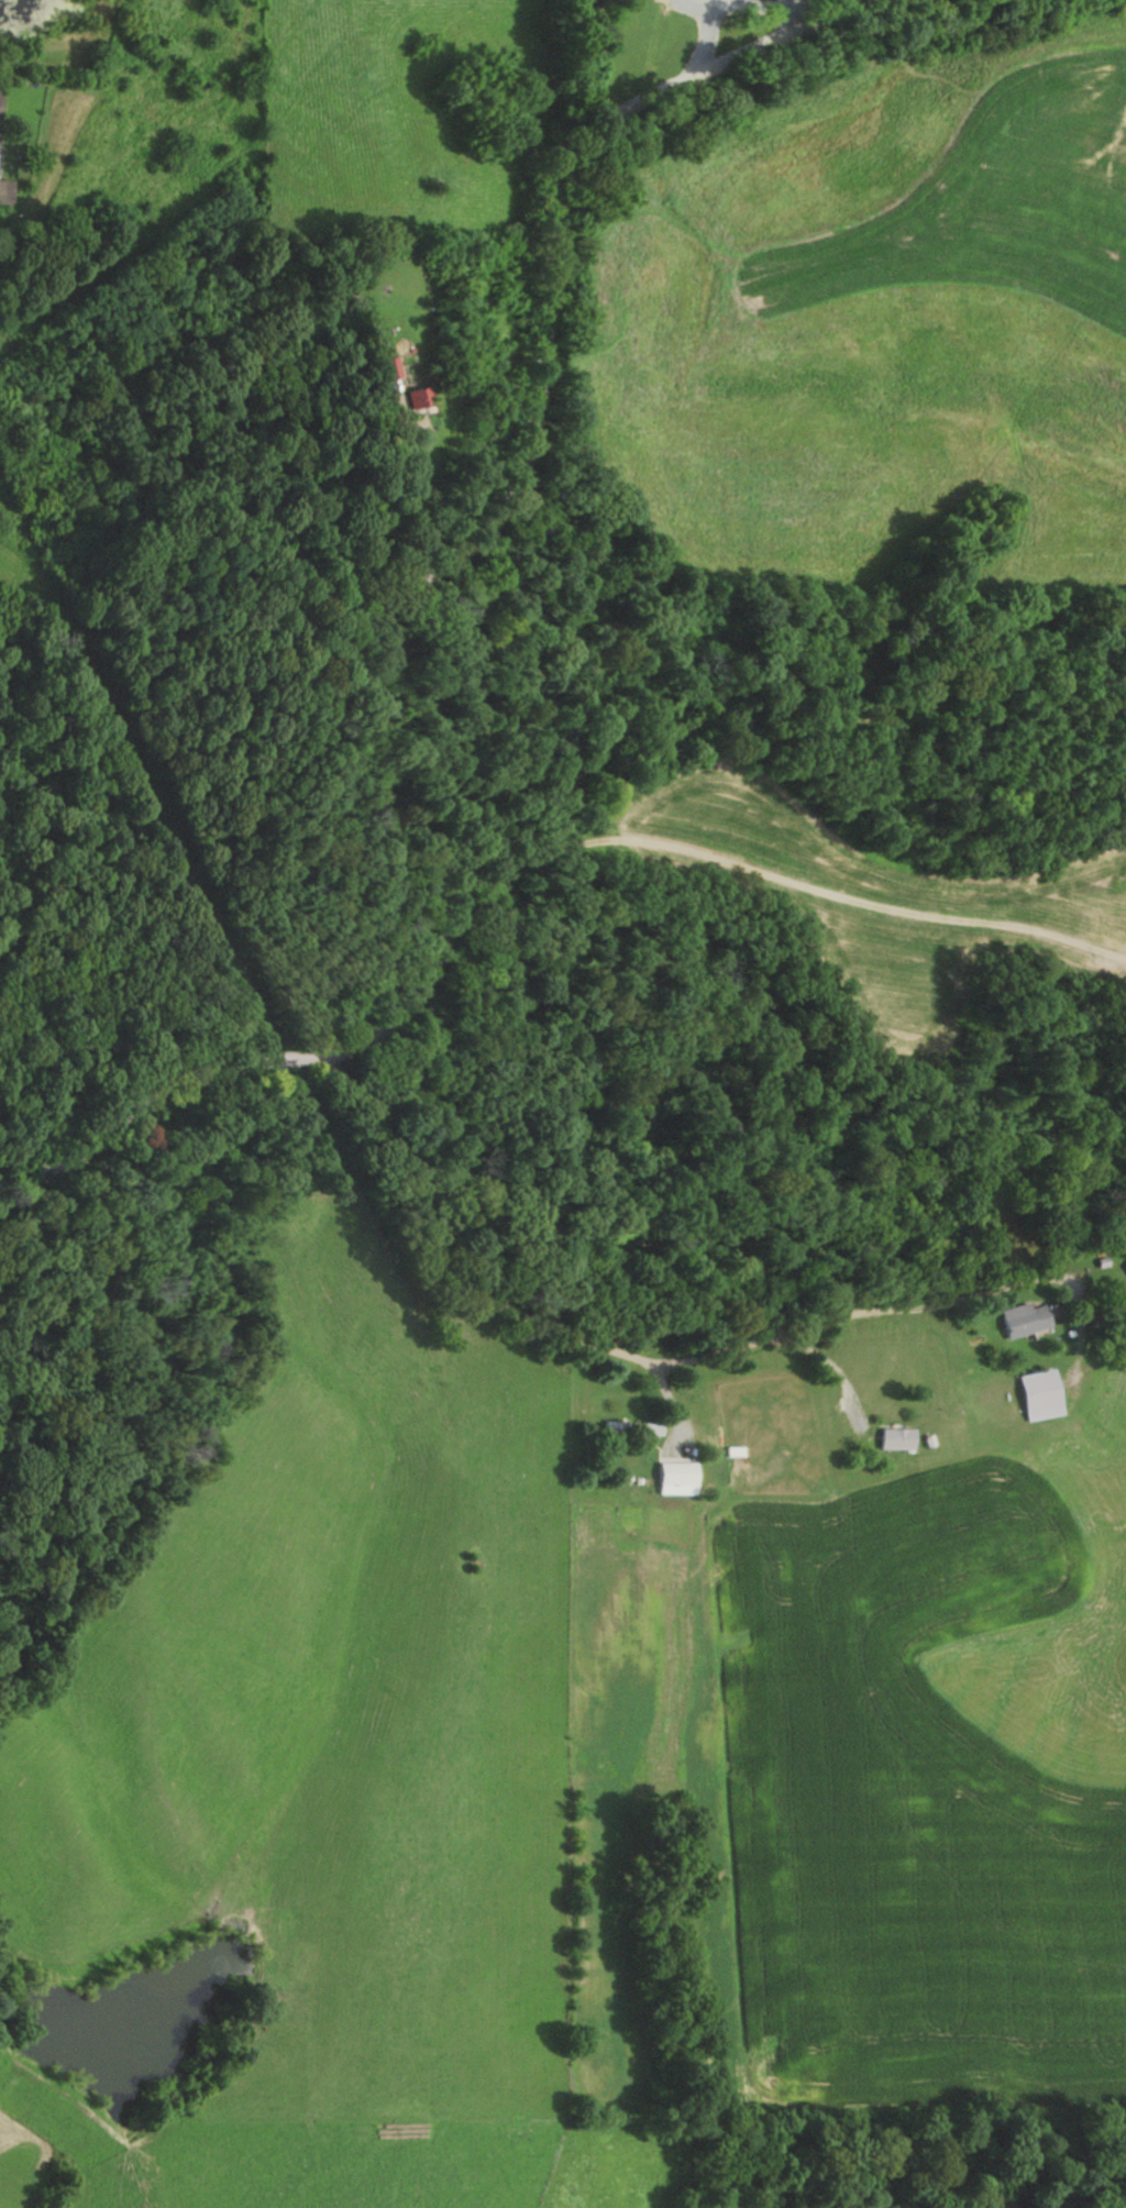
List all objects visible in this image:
building: (713, 2)
building: (7, 191)
building: (383, 367)
building: (411, 396)
road: (374, 633)
road: (795, 879)
building: (1123, 1268)
building: (1016, 1321)
road: (659, 1365)
building: (1036, 1394)
building: (628, 1428)
building: (893, 1439)
building: (669, 1475)

